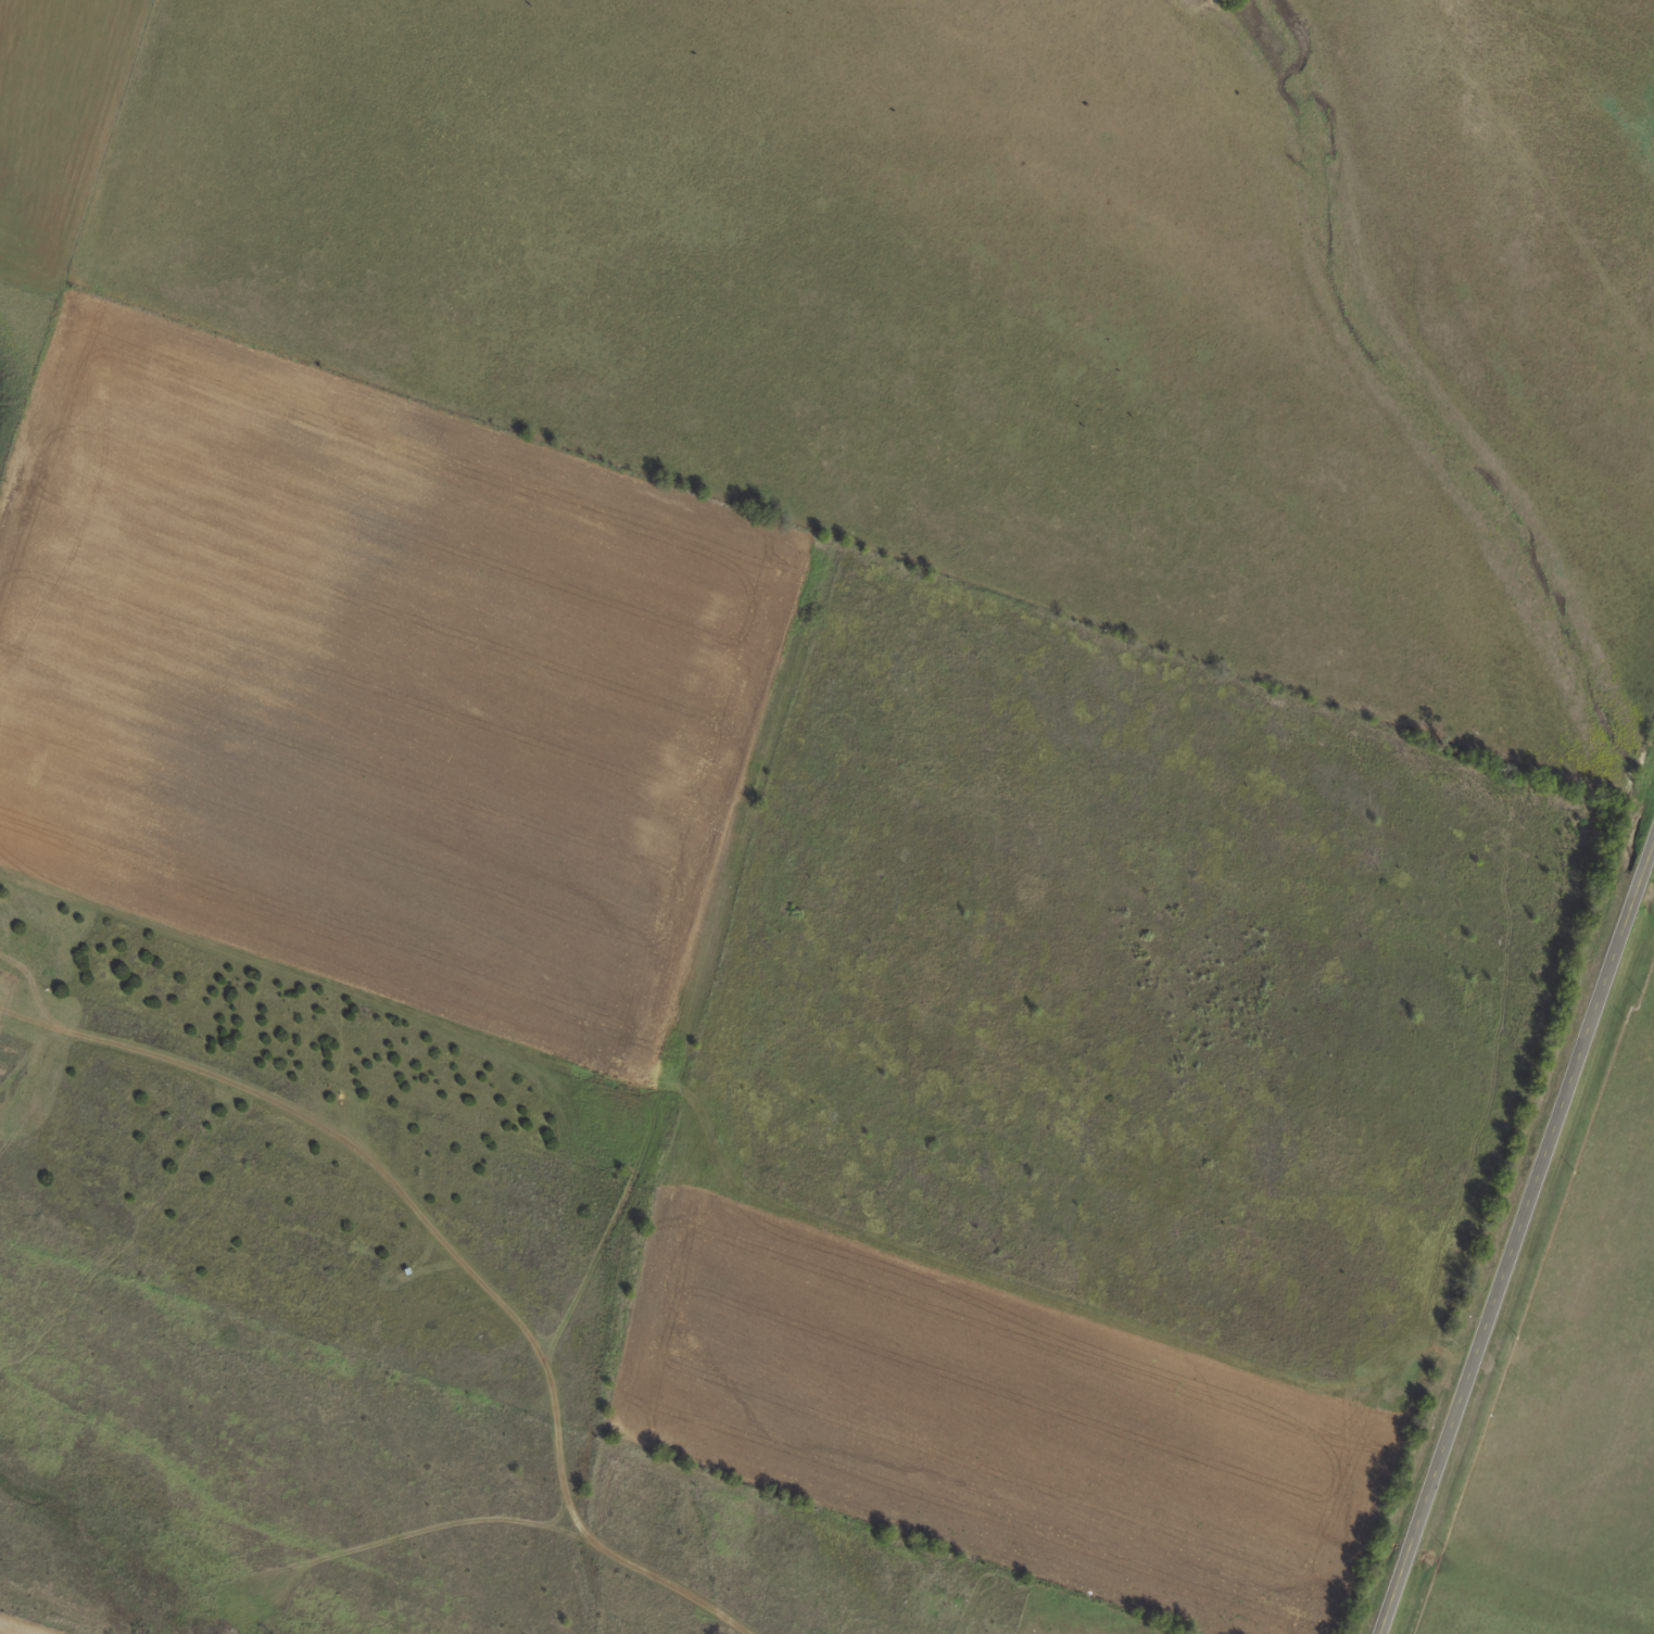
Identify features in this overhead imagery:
road: (1515, 1241)

